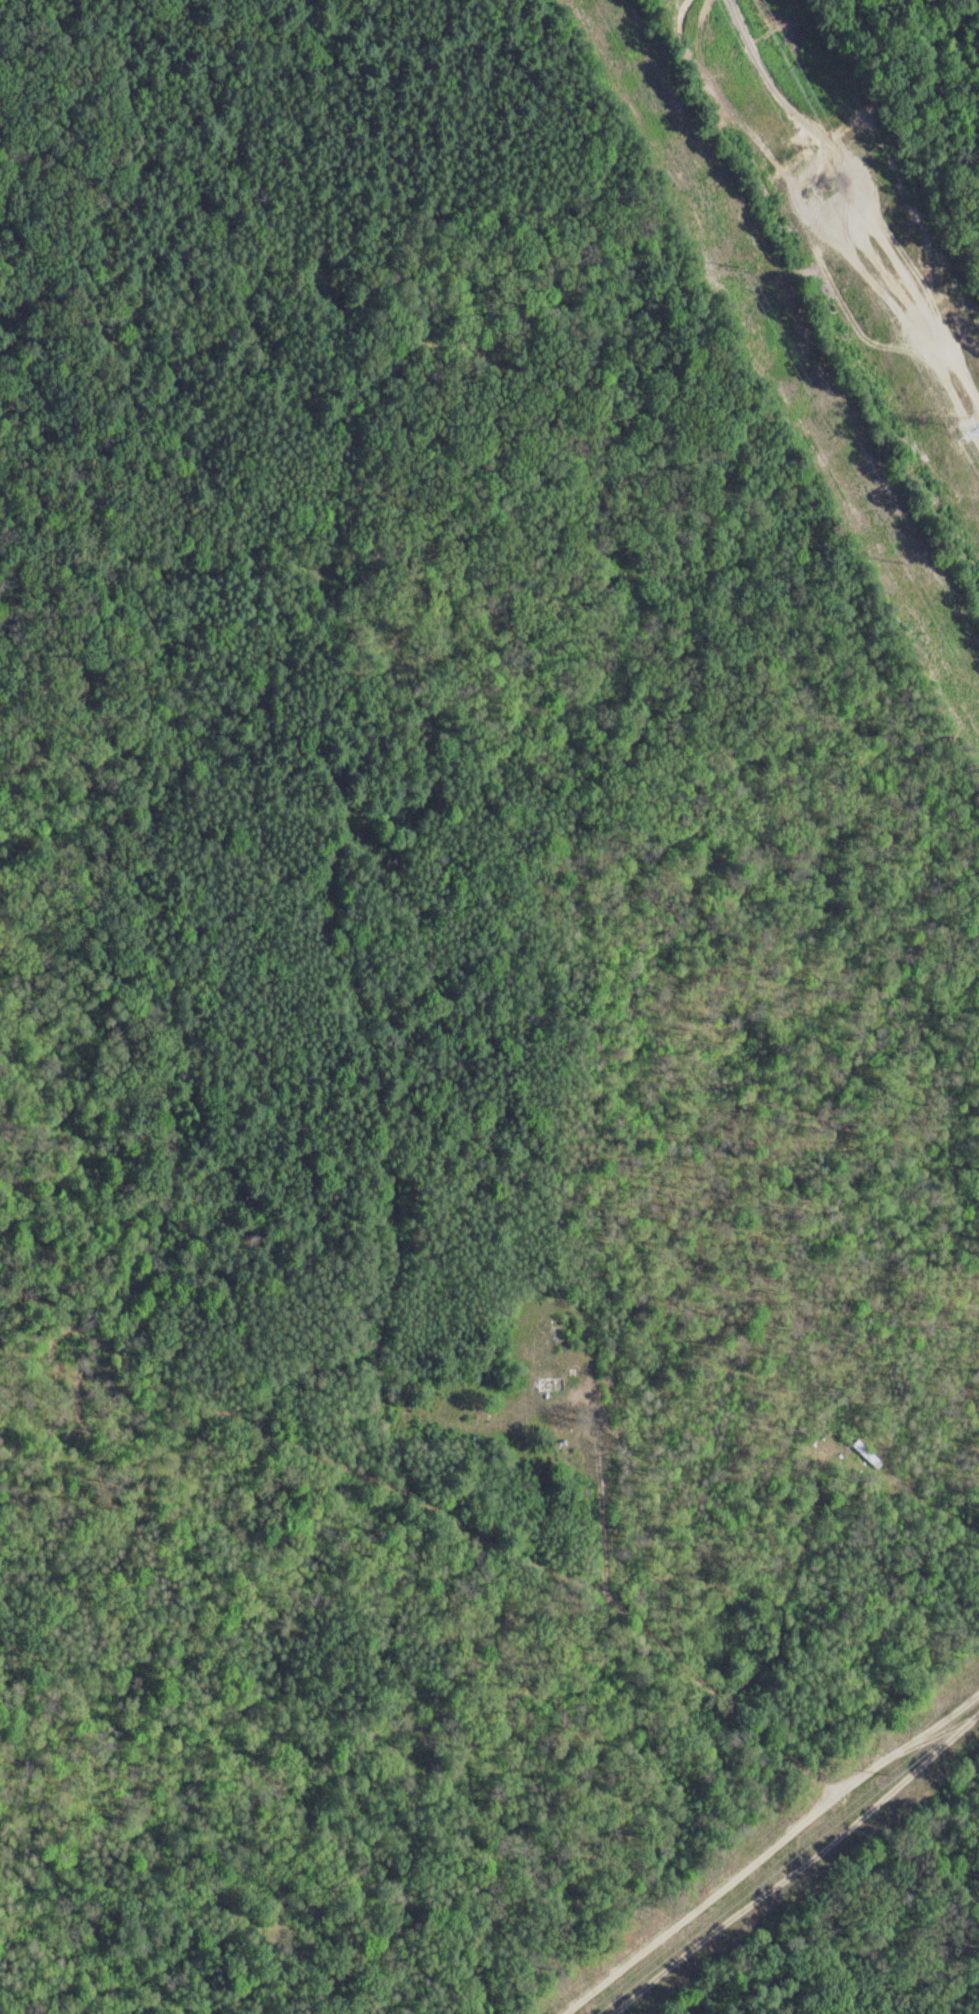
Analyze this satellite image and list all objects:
power tower: (959, 421)
road: (769, 1846)

